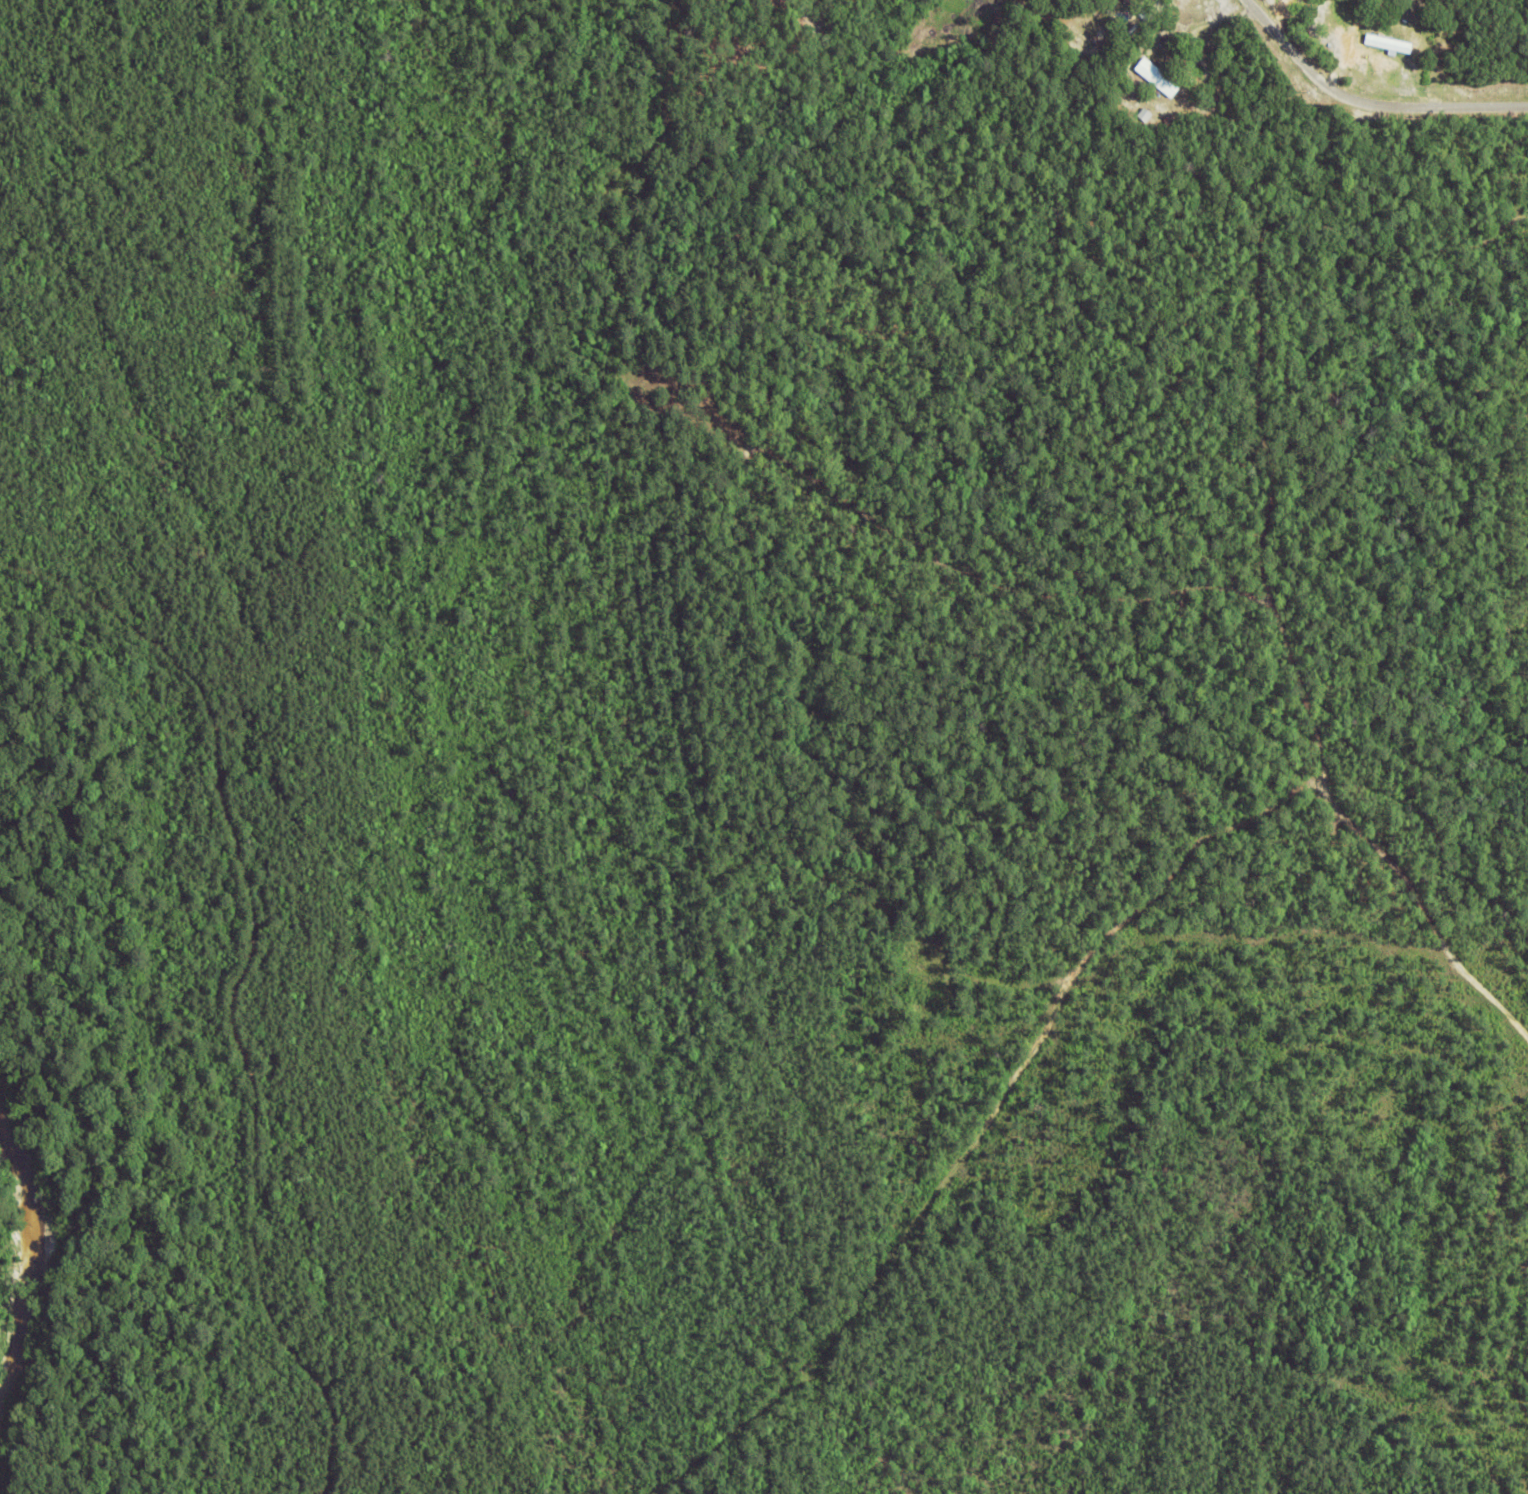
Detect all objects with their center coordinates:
building: (1133, 4)
building: (1330, 29)
building: (1391, 42)
building: (1159, 80)
road: (1368, 102)
building: (1146, 117)
road: (1311, 662)
river: (9, 1259)

